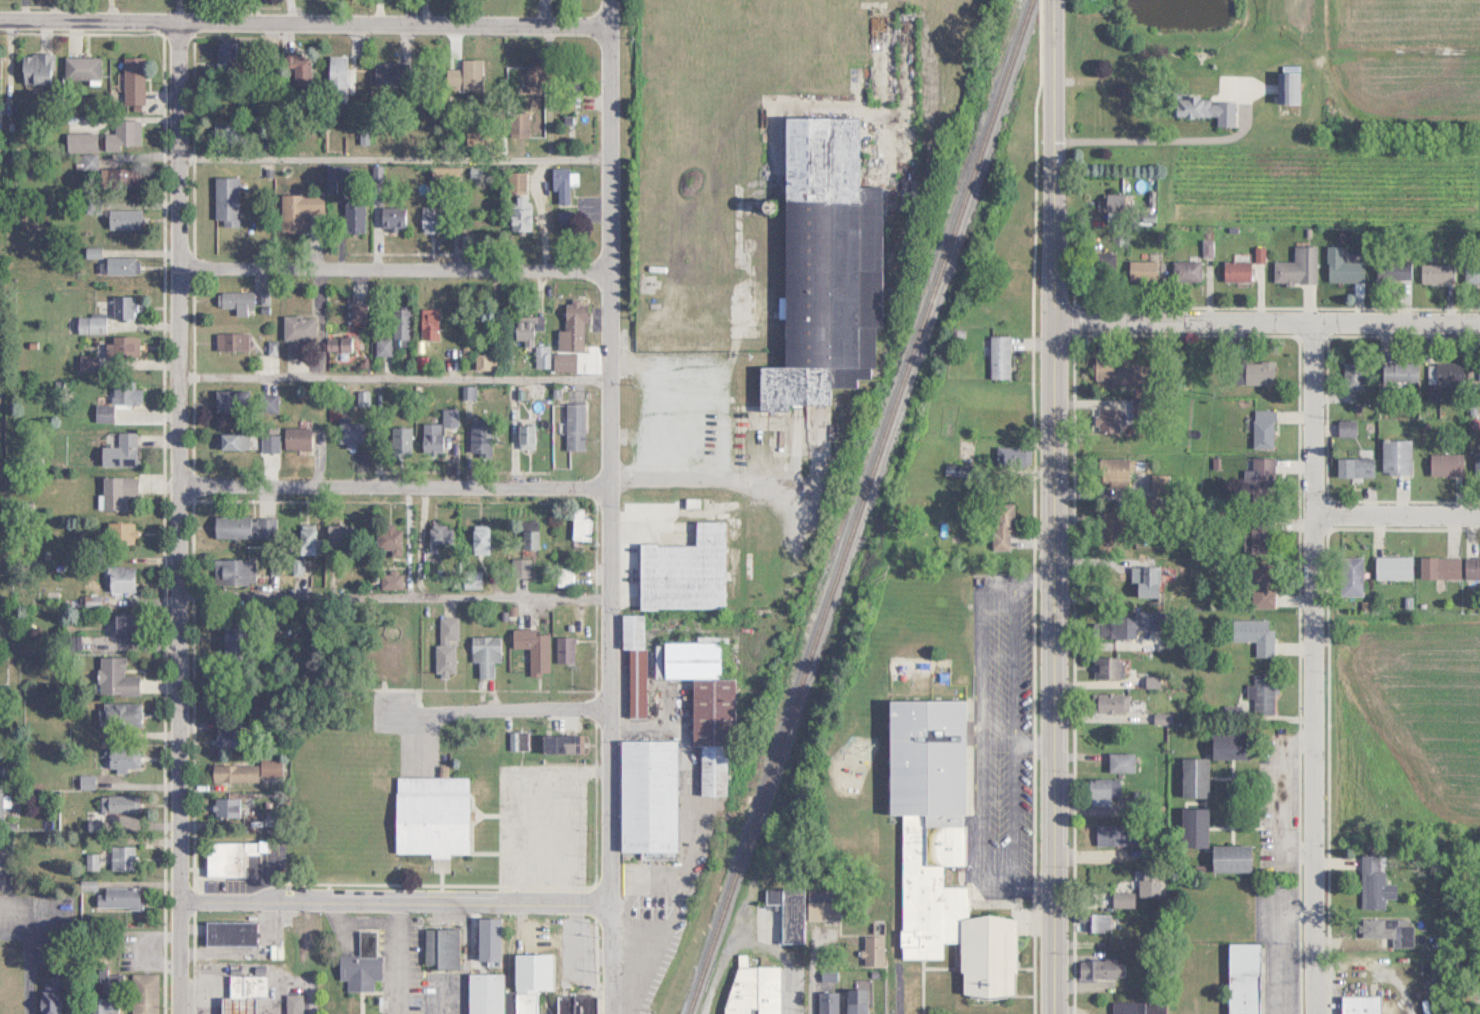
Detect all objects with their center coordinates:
road: (298, 33)
building: (225, 52)
building: (295, 65)
building: (34, 68)
building: (79, 68)
building: (464, 75)
building: (335, 78)
building: (131, 79)
building: (1287, 86)
building: (1206, 108)
building: (121, 135)
building: (78, 141)
road: (1175, 141)
road: (388, 158)
building: (118, 178)
building: (561, 183)
building: (224, 200)
building: (517, 200)
building: (1115, 202)
building: (296, 210)
building: (351, 216)
building: (391, 217)
building: (121, 218)
building: (429, 218)
building: (117, 265)
building: (824, 266)
building: (1296, 266)
building: (1342, 267)
building: (1141, 269)
building: (1473, 269)
building: (1185, 270)
building: (1235, 270)
building: (1399, 270)
building: (1436, 273)
road: (388, 279)
building: (233, 300)
building: (120, 306)
building: (357, 313)
building: (88, 324)
building: (571, 326)
building: (297, 327)
building: (427, 327)
building: (393, 328)
building: (525, 328)
road: (1264, 333)
building: (230, 341)
building: (122, 349)
building: (540, 356)
building: (998, 356)
building: (85, 362)
building: (563, 362)
building: (1255, 371)
building: (1402, 371)
building: (1445, 372)
building: (1121, 373)
building: (1352, 375)
road: (388, 377)
building: (467, 391)
building: (123, 392)
building: (516, 392)
building: (227, 400)
road: (675, 400)
building: (448, 416)
building: (1105, 419)
building: (573, 426)
building: (1346, 427)
building: (349, 432)
building: (1262, 433)
building: (524, 436)
building: (295, 438)
building: (399, 440)
building: (231, 441)
building: (121, 450)
building: (1009, 455)
building: (1395, 456)
building: (1445, 464)
building: (1478, 464)
building: (1354, 466)
building: (1111, 471)
building: (1262, 478)
building: (1156, 482)
building: (115, 491)
road: (389, 496)
railway: (858, 506)
road: (1050, 506)
road: (173, 522)
building: (578, 525)
road: (1395, 525)
building: (242, 526)
building: (1003, 526)
road: (605, 527)
building: (119, 532)
building: (439, 533)
building: (1259, 536)
building: (527, 539)
building: (305, 540)
building: (389, 540)
building: (478, 540)
building: (519, 566)
building: (1393, 566)
building: (1439, 567)
building: (1472, 567)
building: (238, 571)
building: (683, 571)
building: (1350, 575)
building: (563, 576)
road: (1029, 577)
building: (119, 578)
building: (1261, 590)
road: (998, 591)
road: (389, 594)
building: (1126, 624)
building: (121, 626)
building: (1254, 633)
building: (230, 638)
building: (444, 647)
building: (532, 649)
building: (562, 649)
building: (483, 653)
building: (633, 661)
road: (1012, 665)
building: (1107, 668)
road: (1311, 673)
building: (114, 677)
building: (1260, 694)
building: (1108, 702)
building: (703, 706)
building: (120, 714)
road: (531, 716)
building: (226, 738)
road: (997, 742)
road: (1031, 743)
building: (1229, 745)
building: (120, 759)
building: (1120, 762)
building: (267, 767)
road: (981, 772)
building: (232, 773)
building: (1193, 777)
building: (1103, 788)
road: (1282, 797)
building: (647, 798)
building: (0, 800)
building: (223, 807)
building: (117, 810)
building: (430, 815)
road: (1013, 815)
building: (1192, 827)
building: (1117, 834)
building: (939, 847)
building: (1, 854)
building: (121, 857)
building: (227, 857)
building: (1229, 858)
building: (1374, 883)
building: (120, 898)
building: (1122, 899)
road: (390, 902)
building: (820, 905)
building: (779, 916)
building: (1093, 922)
building: (1388, 930)
building: (228, 933)
road: (751, 941)
road: (1277, 946)
building: (440, 949)
building: (872, 950)
building: (307, 954)
building: (359, 964)
building: (1100, 969)
road: (809, 970)
building: (1242, 978)
building: (244, 984)
building: (753, 990)
road: (899, 990)
building: (141, 993)
building: (483, 993)
building: (104, 994)
building: (46, 998)
building: (855, 1001)
building: (827, 1002)
building: (290, 1004)
building: (234, 1005)
building: (575, 1005)
building: (1360, 1005)
building: (1127, 1007)
building: (1279, 1013)

